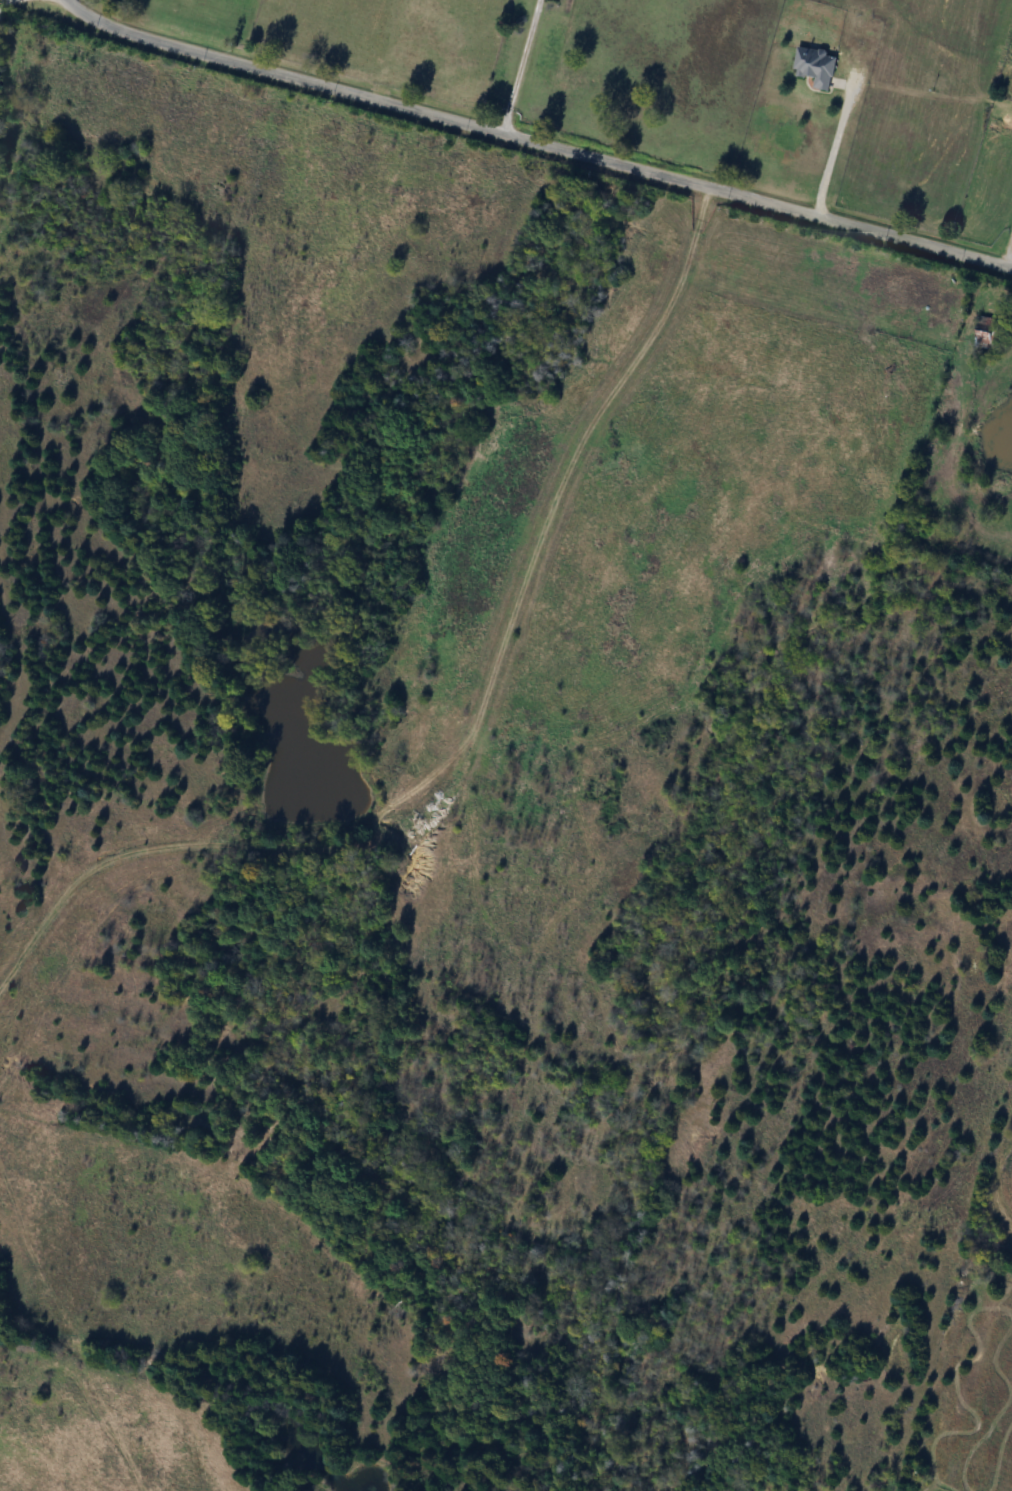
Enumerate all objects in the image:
road: (1, 0)
road: (143, 37)
road: (513, 66)
building: (817, 67)
road: (835, 148)
road: (620, 166)
road: (1008, 254)
building: (989, 333)

